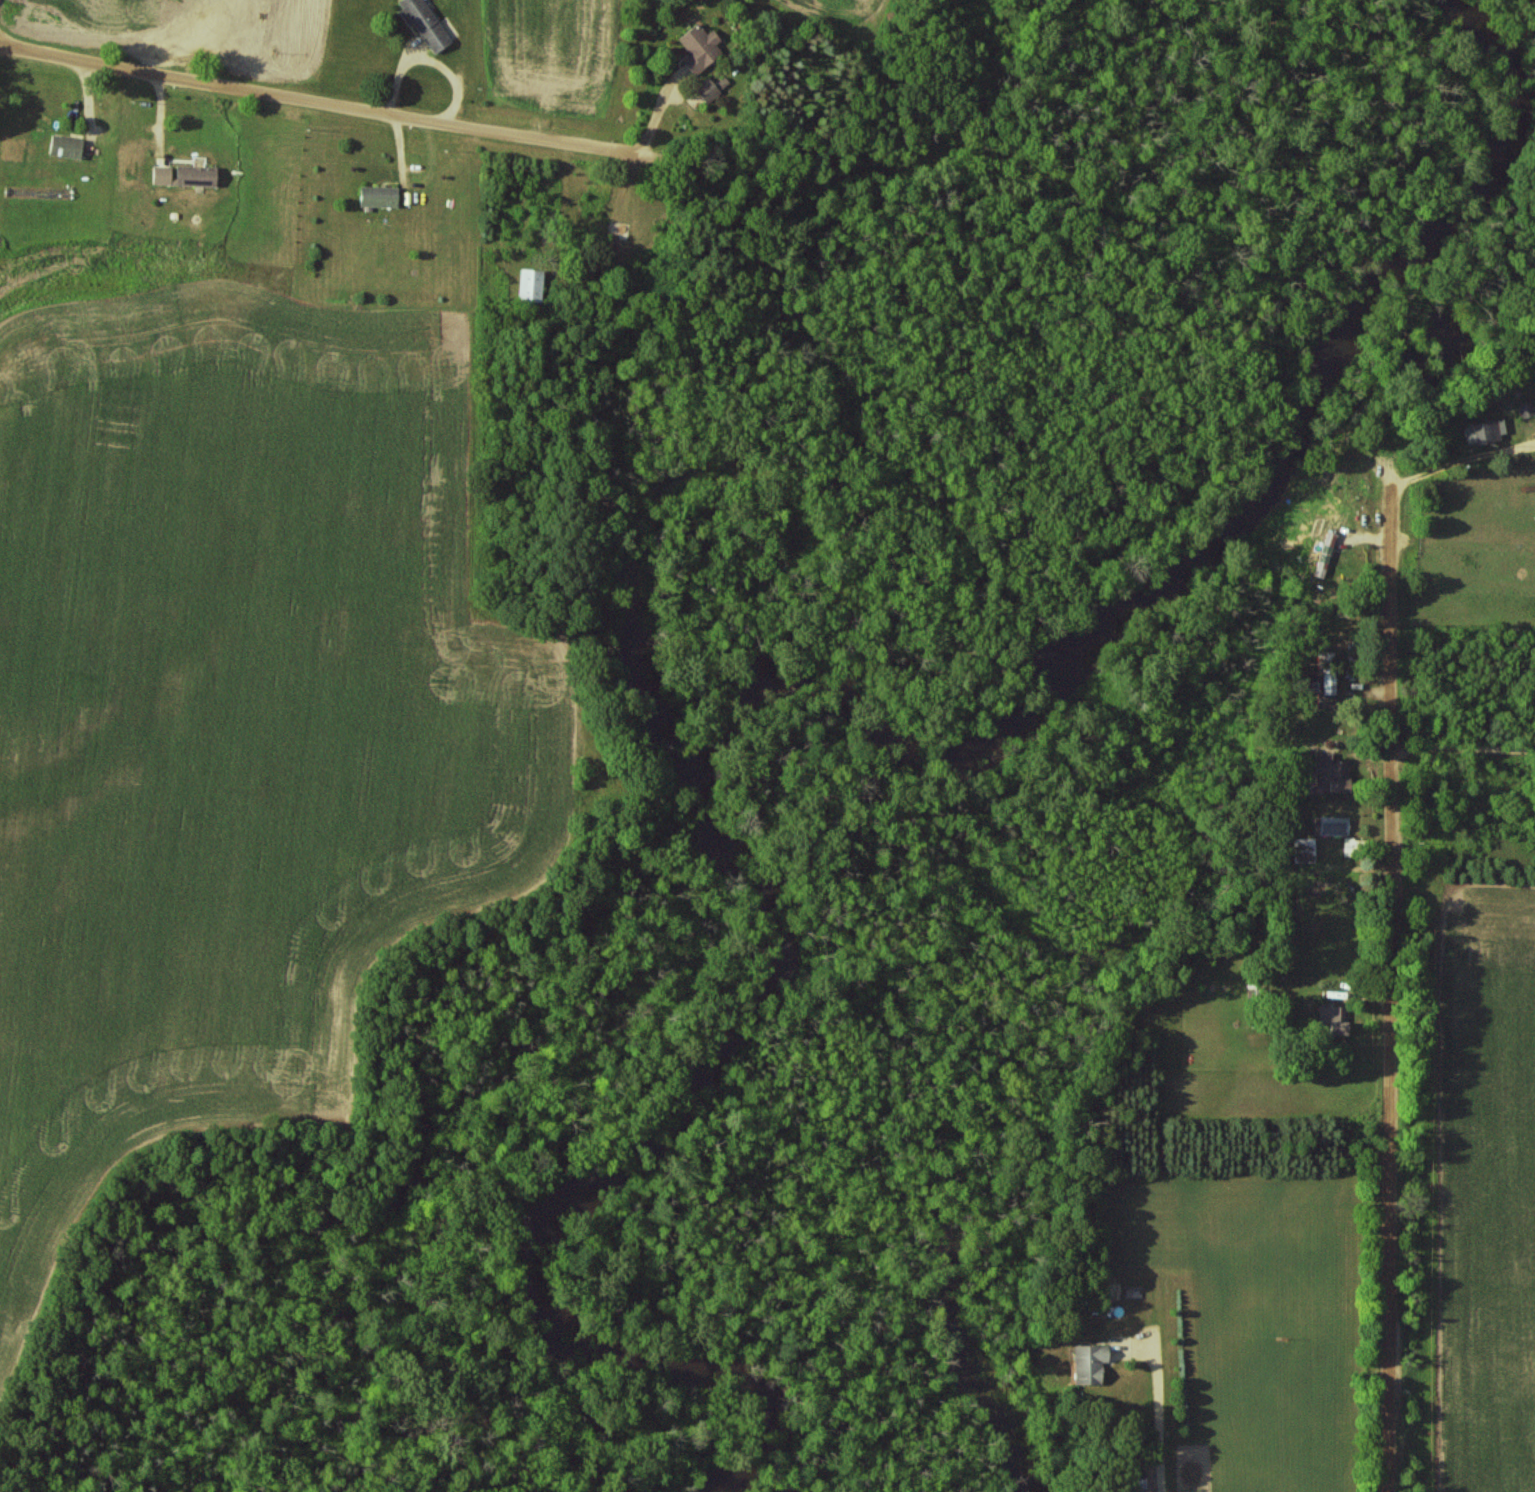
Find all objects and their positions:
building: (424, 23)
building: (699, 48)
building: (708, 90)
road: (568, 143)
building: (65, 147)
building: (183, 176)
building: (378, 197)
building: (532, 286)
building: (1524, 410)
building: (1483, 432)
river: (1275, 449)
building: (1326, 674)
building: (1328, 774)
building: (1335, 826)
building: (1305, 850)
road: (1389, 966)
building: (1333, 1019)
river: (657, 1127)
building: (1086, 1363)
road: (1155, 1411)

